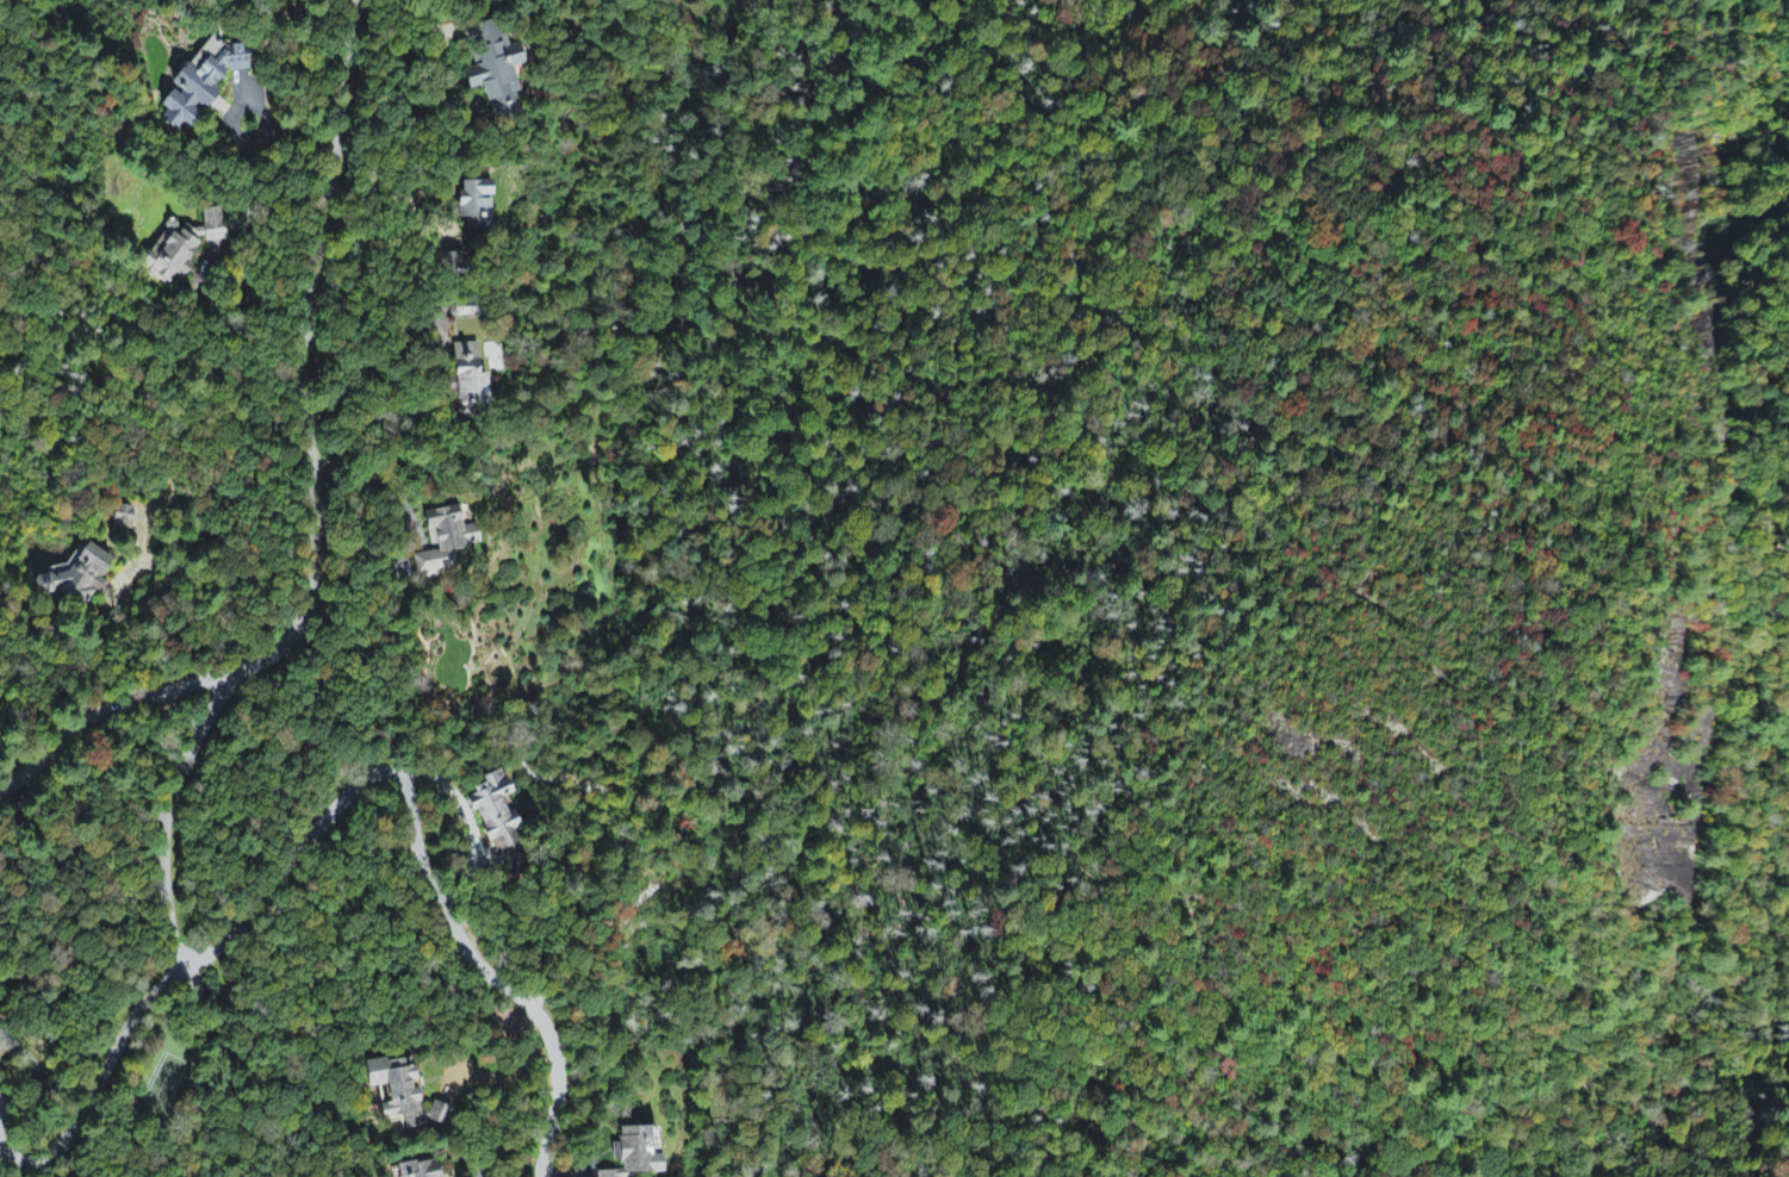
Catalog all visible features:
building: (495, 67)
building: (204, 83)
building: (477, 206)
building: (184, 248)
building: (471, 378)
road: (315, 486)
building: (123, 519)
building: (446, 543)
building: (79, 579)
road: (166, 814)
building: (498, 817)
road: (417, 846)
road: (99, 1081)
building: (403, 1095)
building: (638, 1156)
building: (422, 1170)

